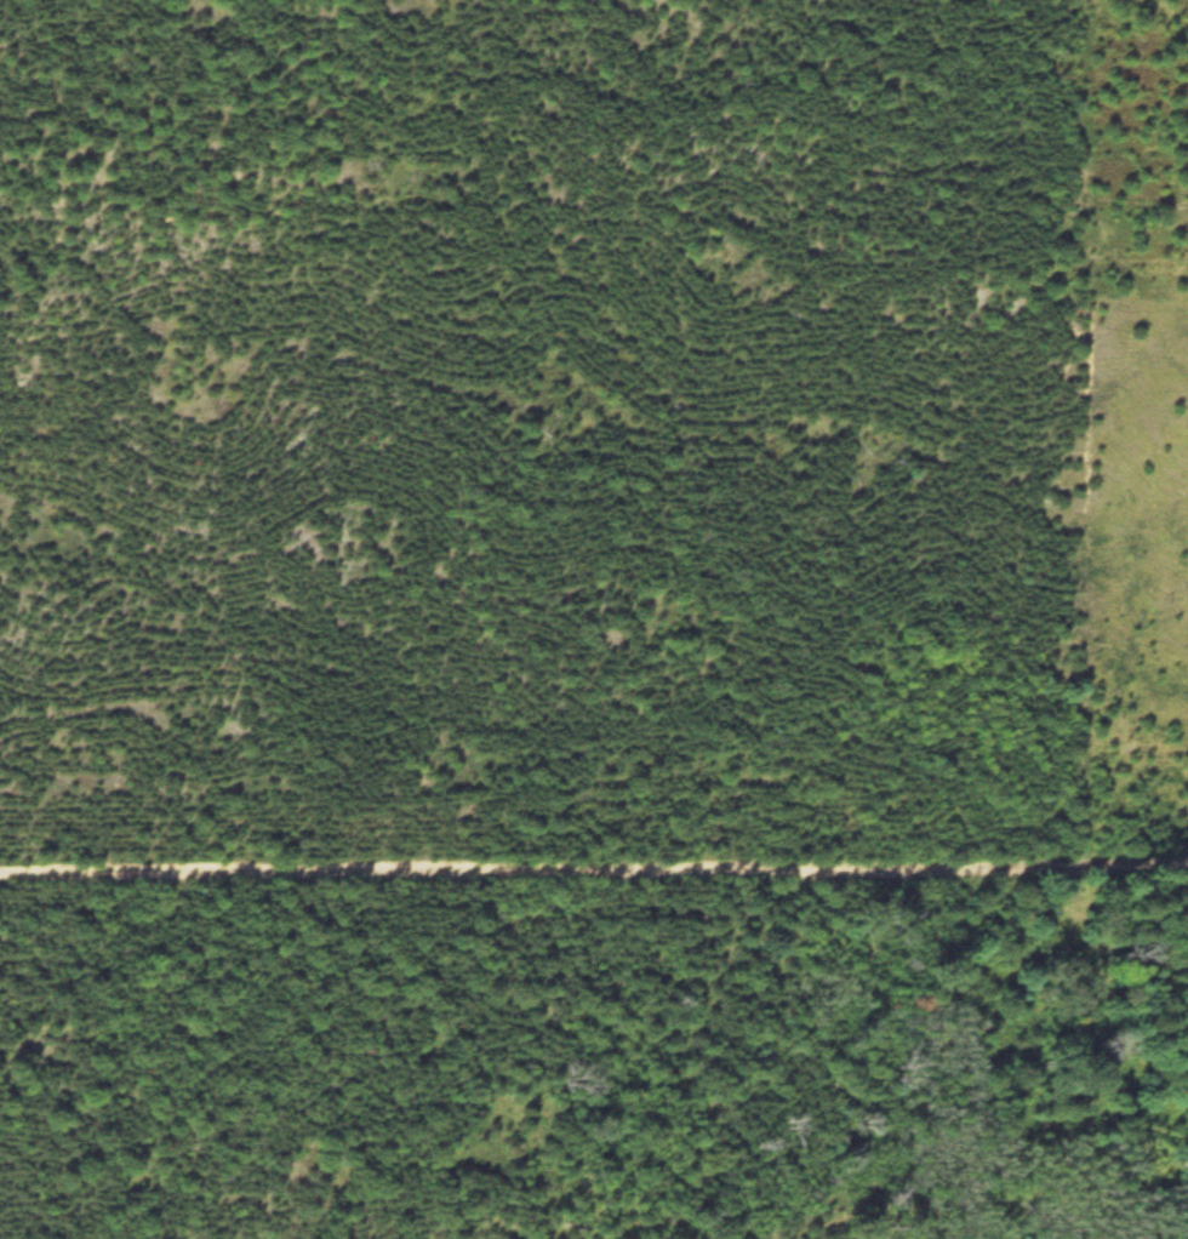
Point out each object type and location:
road: (594, 870)

